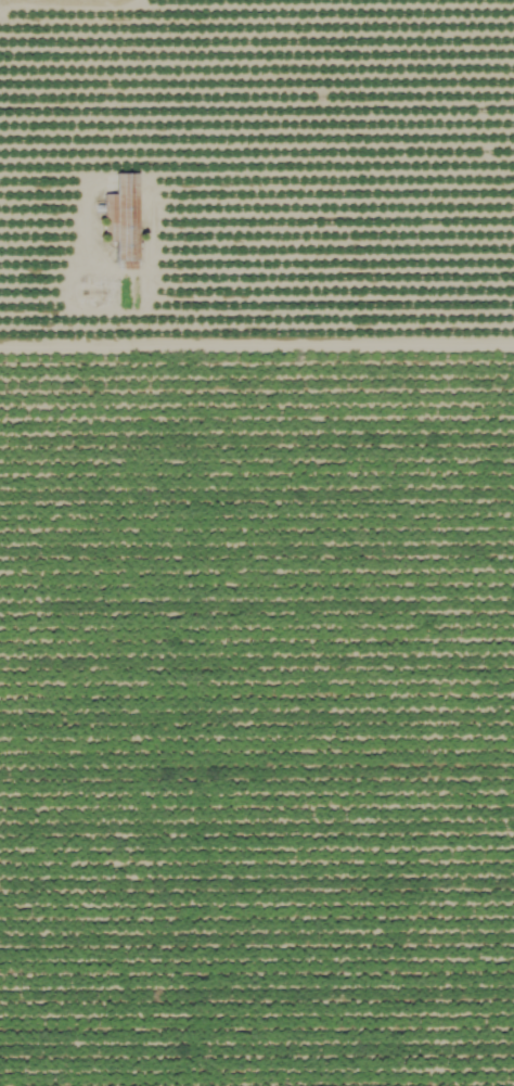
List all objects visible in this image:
crop: (256, 179)

